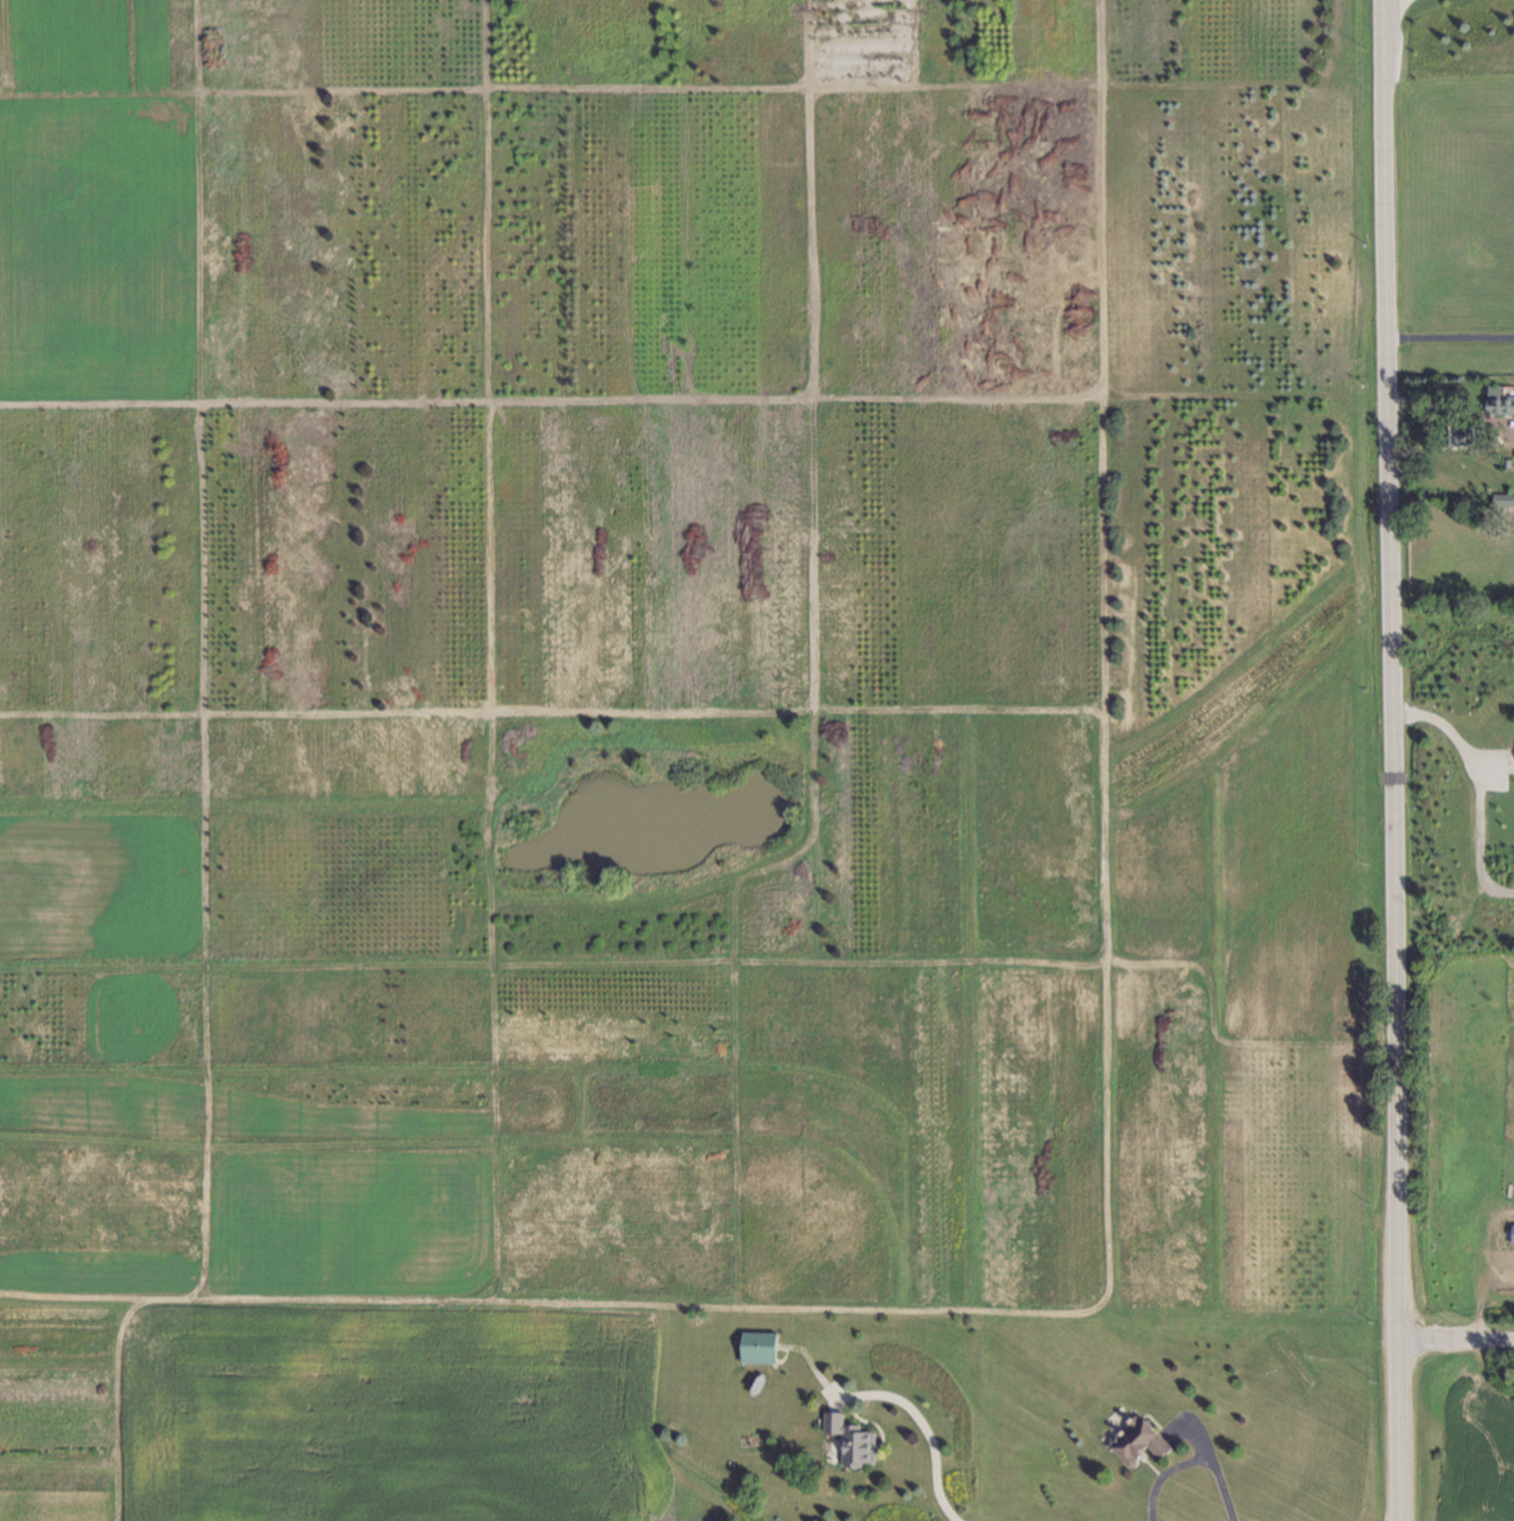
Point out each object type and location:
road: (1448, 338)
building: (1498, 399)
road: (1456, 408)
building: (1452, 435)
building: (1501, 464)
building: (1499, 500)
road: (1449, 734)
road: (1390, 760)
road: (1456, 1339)
building: (759, 1346)
road: (896, 1401)
building: (848, 1437)
building: (1136, 1443)
road: (1191, 1460)

